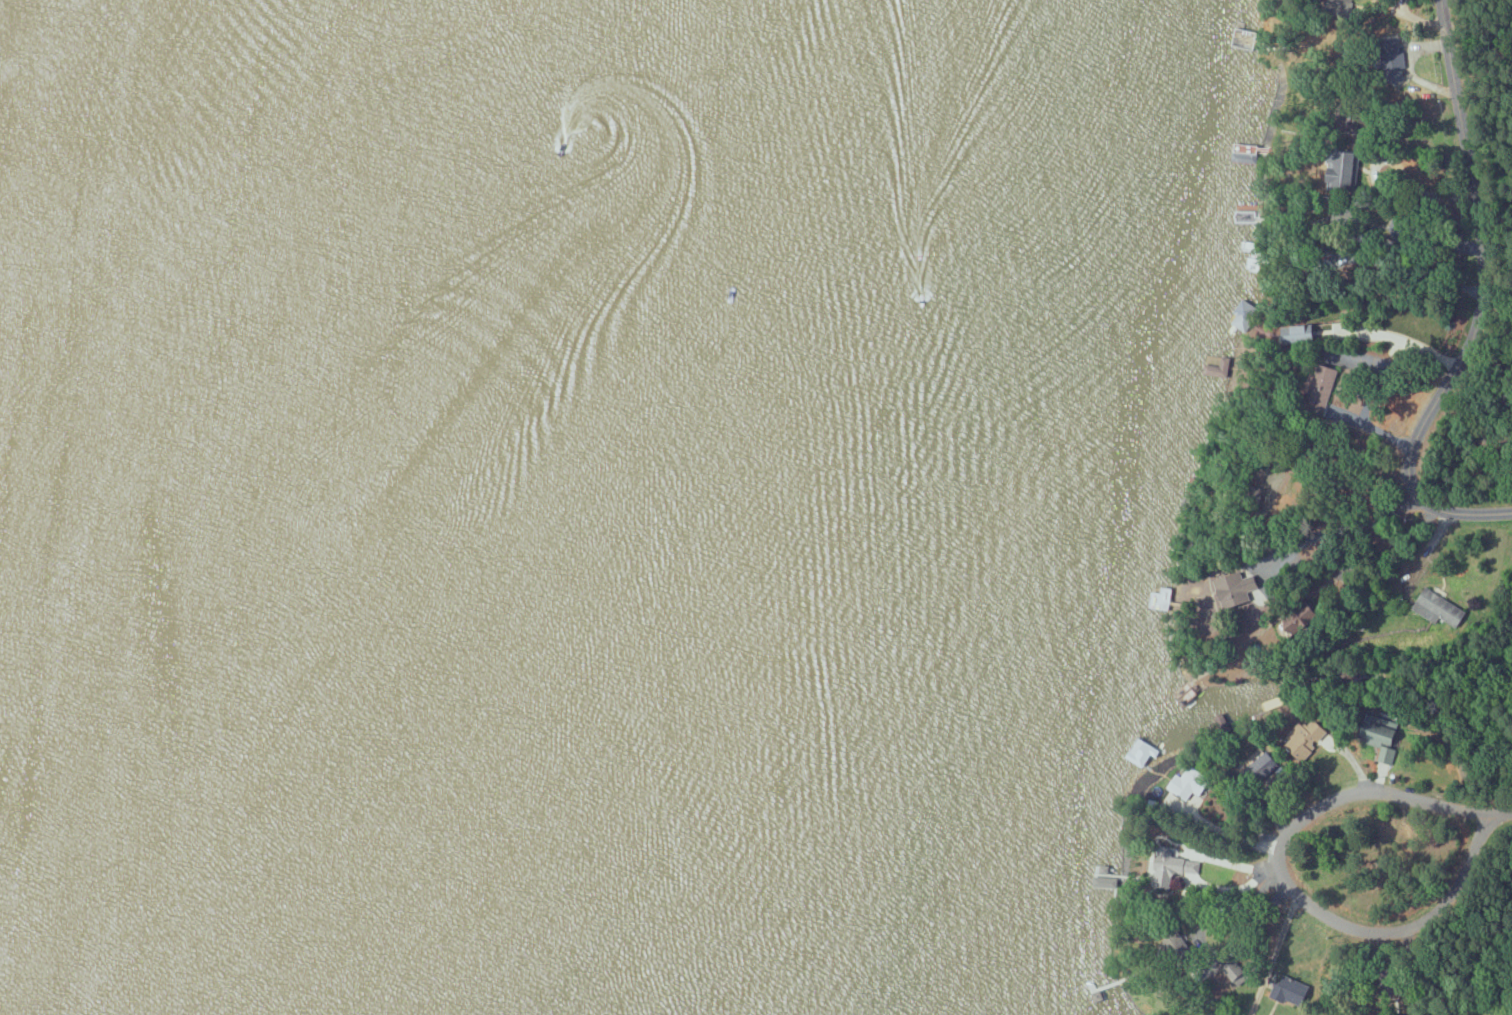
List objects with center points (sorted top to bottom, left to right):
building: (1244, 37)
building: (1401, 61)
building: (1348, 171)
building: (1245, 213)
road: (1479, 307)
building: (1242, 315)
building: (1304, 333)
building: (1218, 368)
building: (1329, 383)
river: (264, 506)
building: (1239, 590)
building: (1164, 597)
building: (1439, 608)
building: (1301, 623)
building: (1314, 740)
building: (1382, 742)
building: (1258, 766)
building: (1186, 789)
road: (1371, 791)
building: (1174, 867)
road: (1237, 970)
building: (1292, 990)

